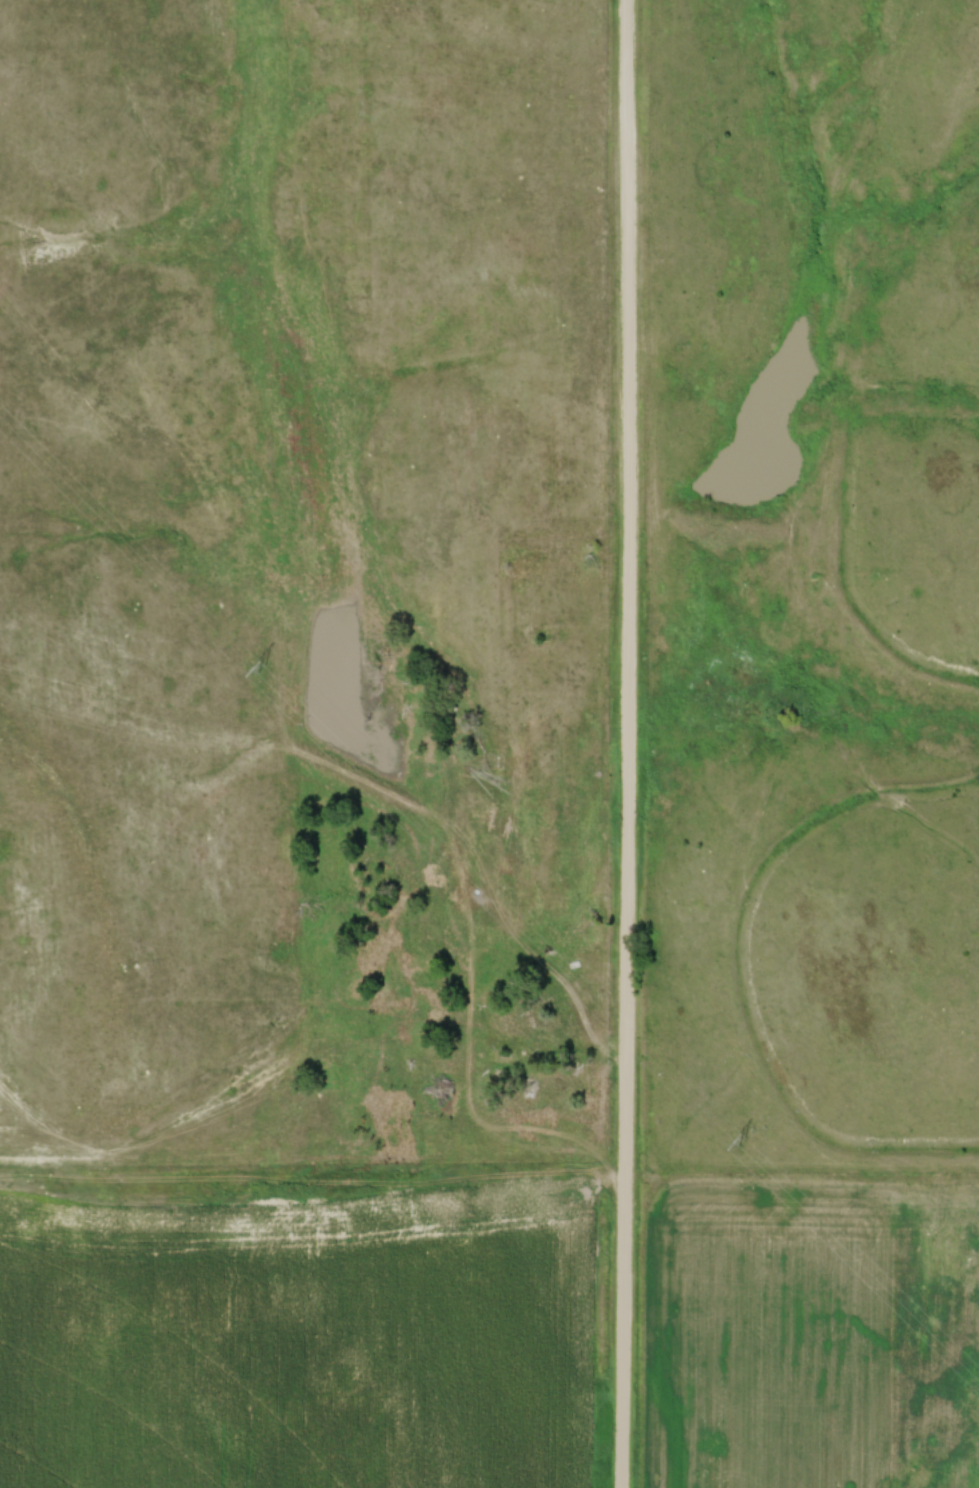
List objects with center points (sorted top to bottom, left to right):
power tower: (260, 673)
road: (627, 744)
power tower: (738, 1144)

